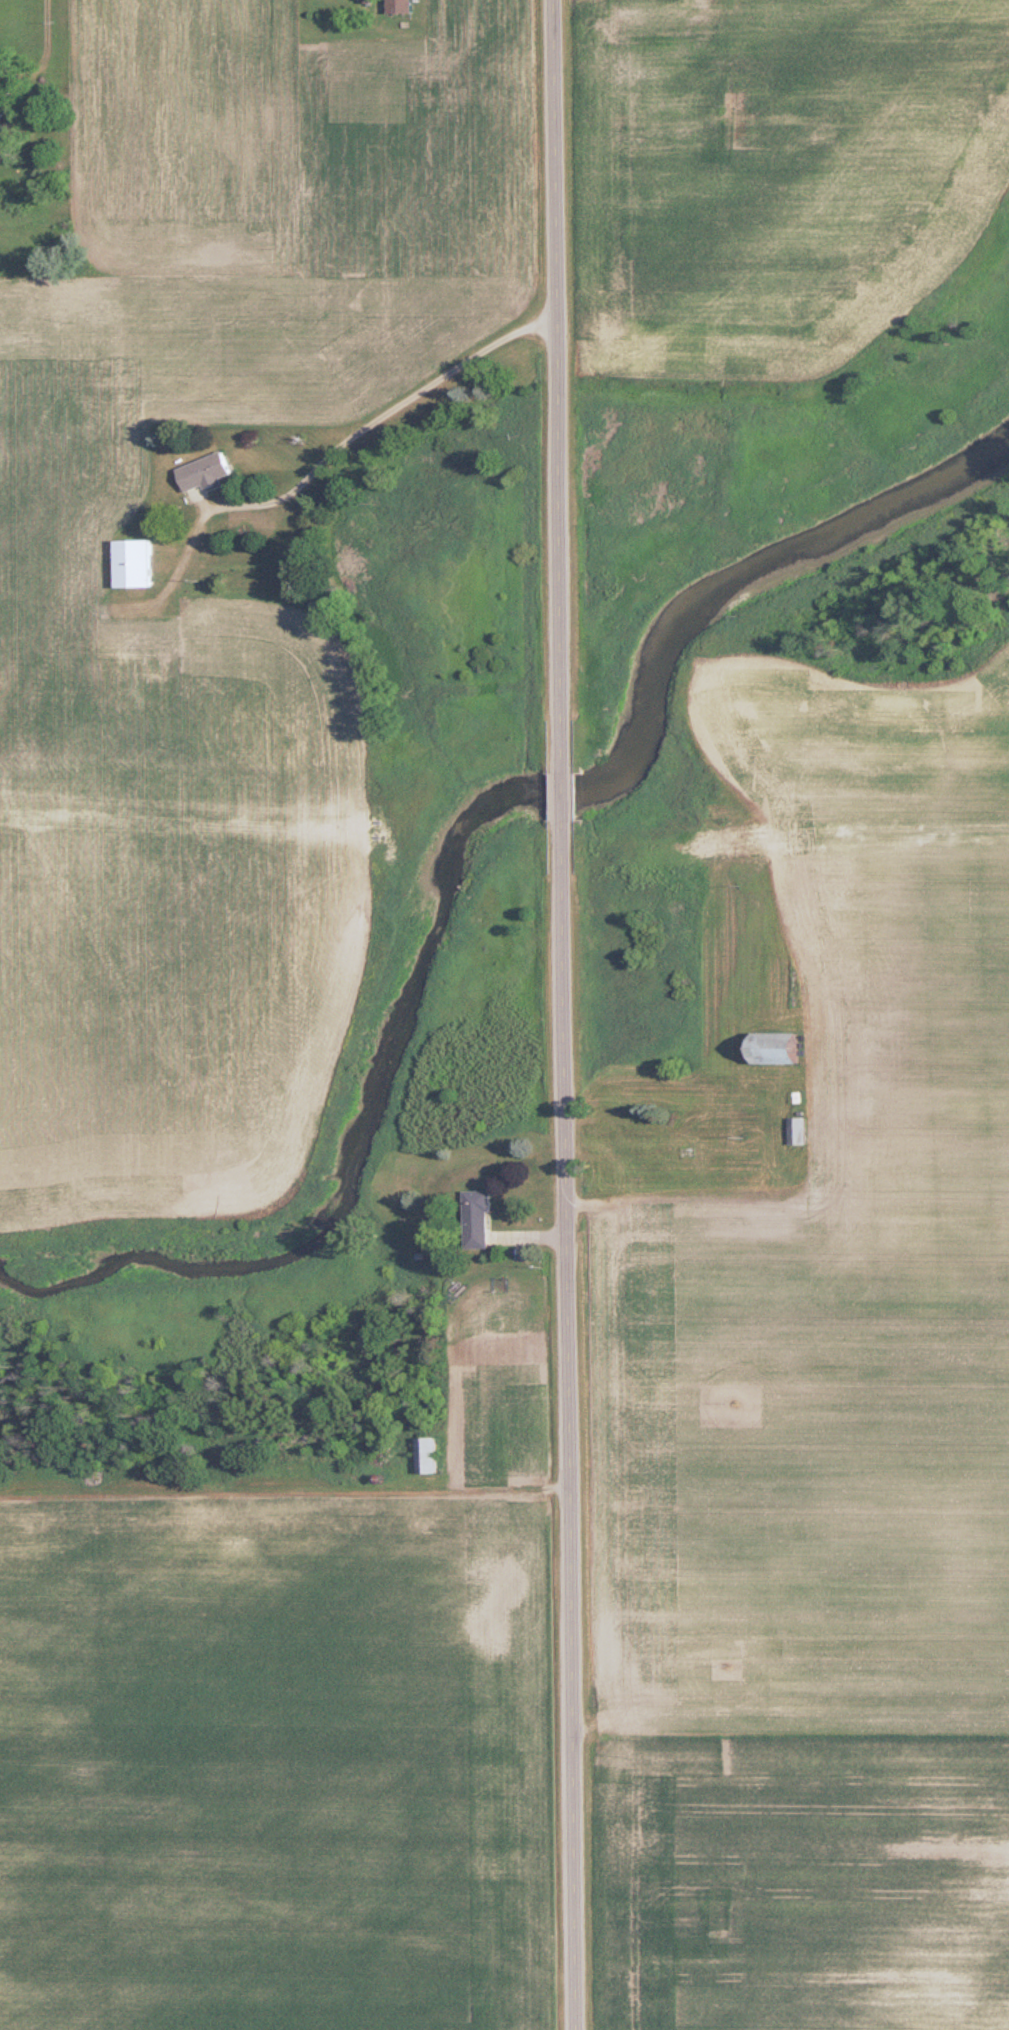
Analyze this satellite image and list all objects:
building: (397, 7)
road: (45, 54)
road: (556, 378)
road: (378, 415)
building: (201, 472)
building: (130, 563)
road: (563, 794)
river: (441, 848)
building: (771, 1048)
building: (795, 1131)
building: (474, 1219)
road: (569, 1431)
building: (425, 1456)

